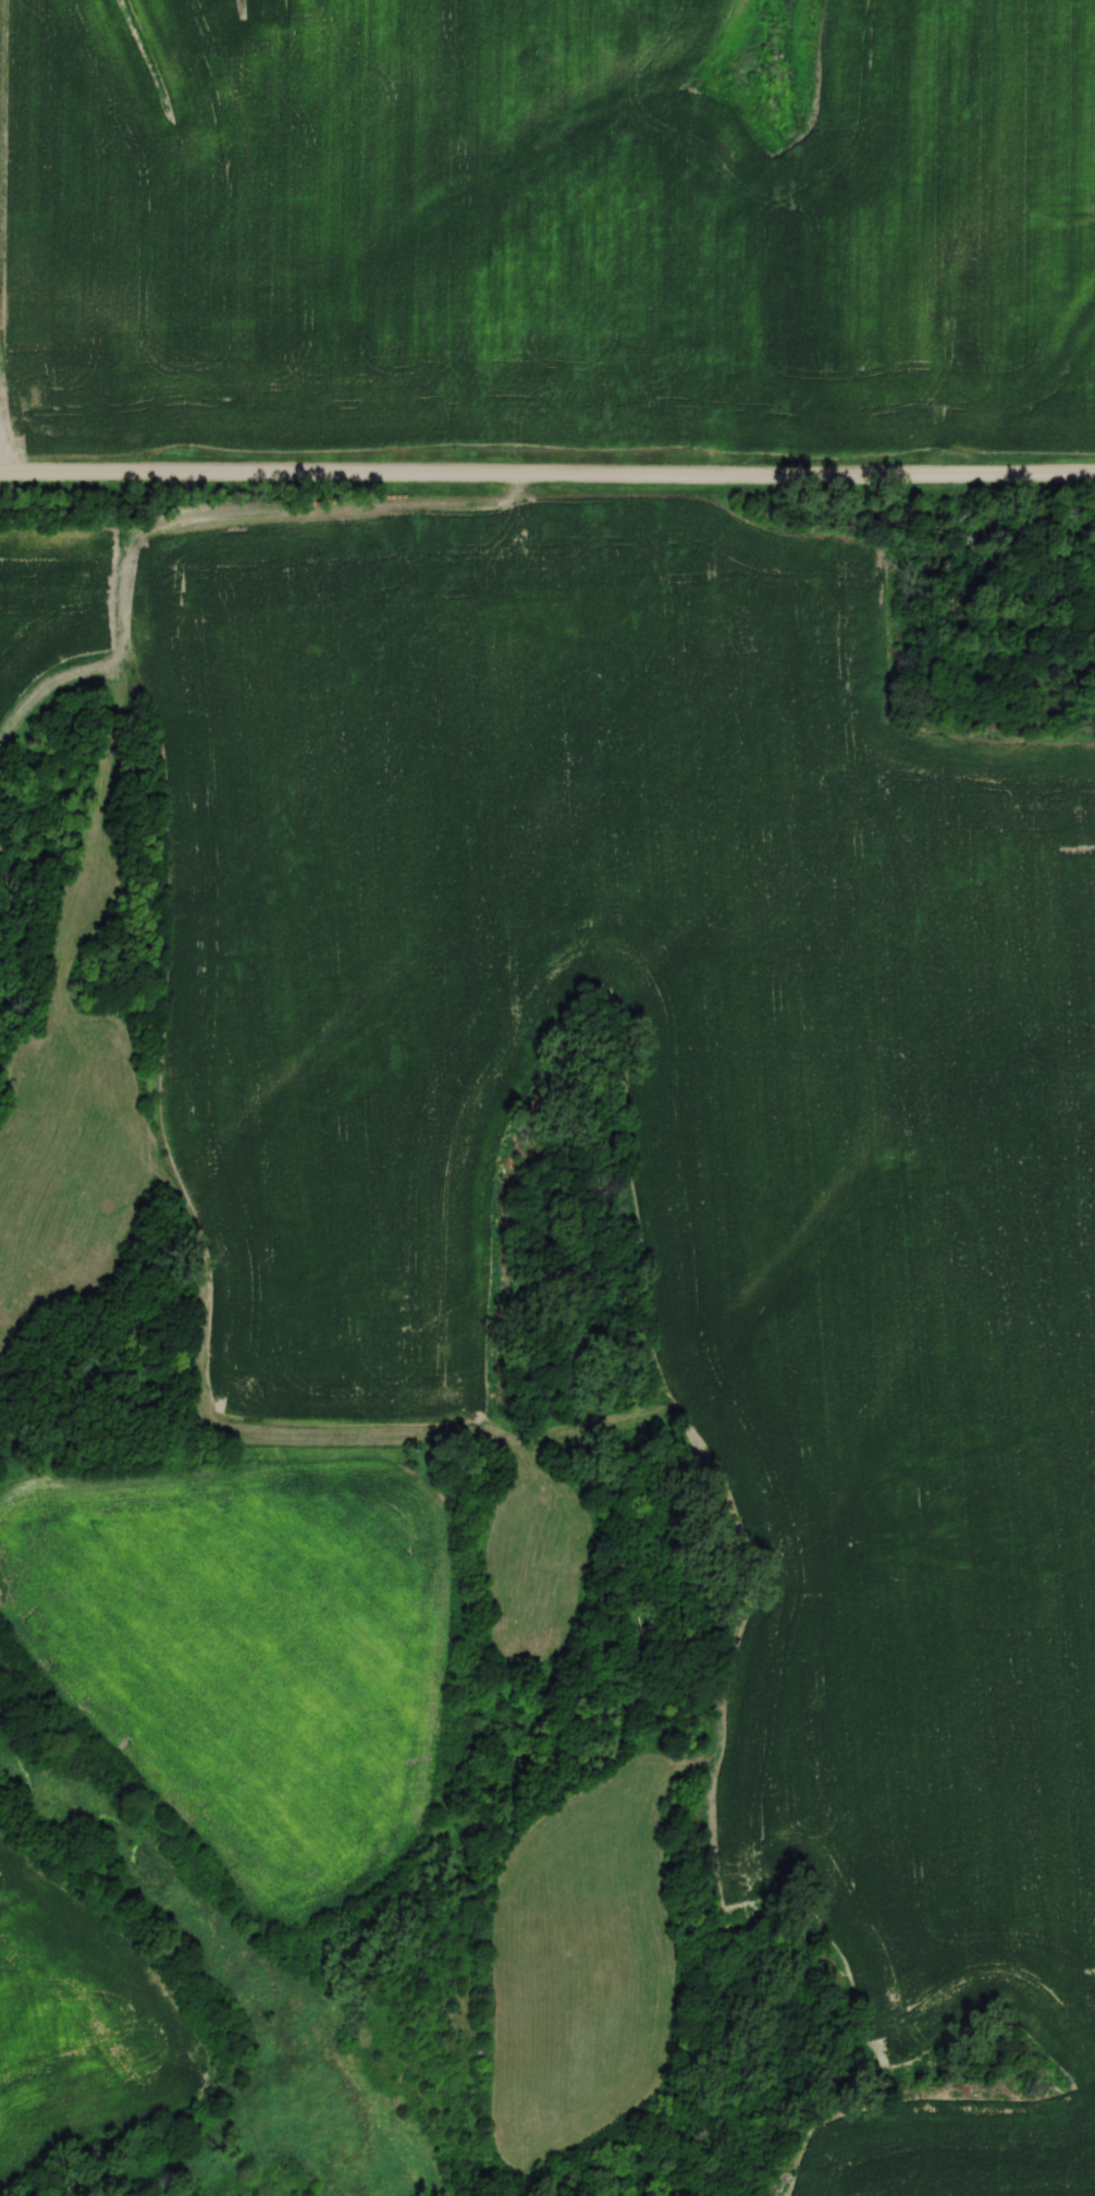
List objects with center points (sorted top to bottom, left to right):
road: (547, 476)
building: (1091, 574)

